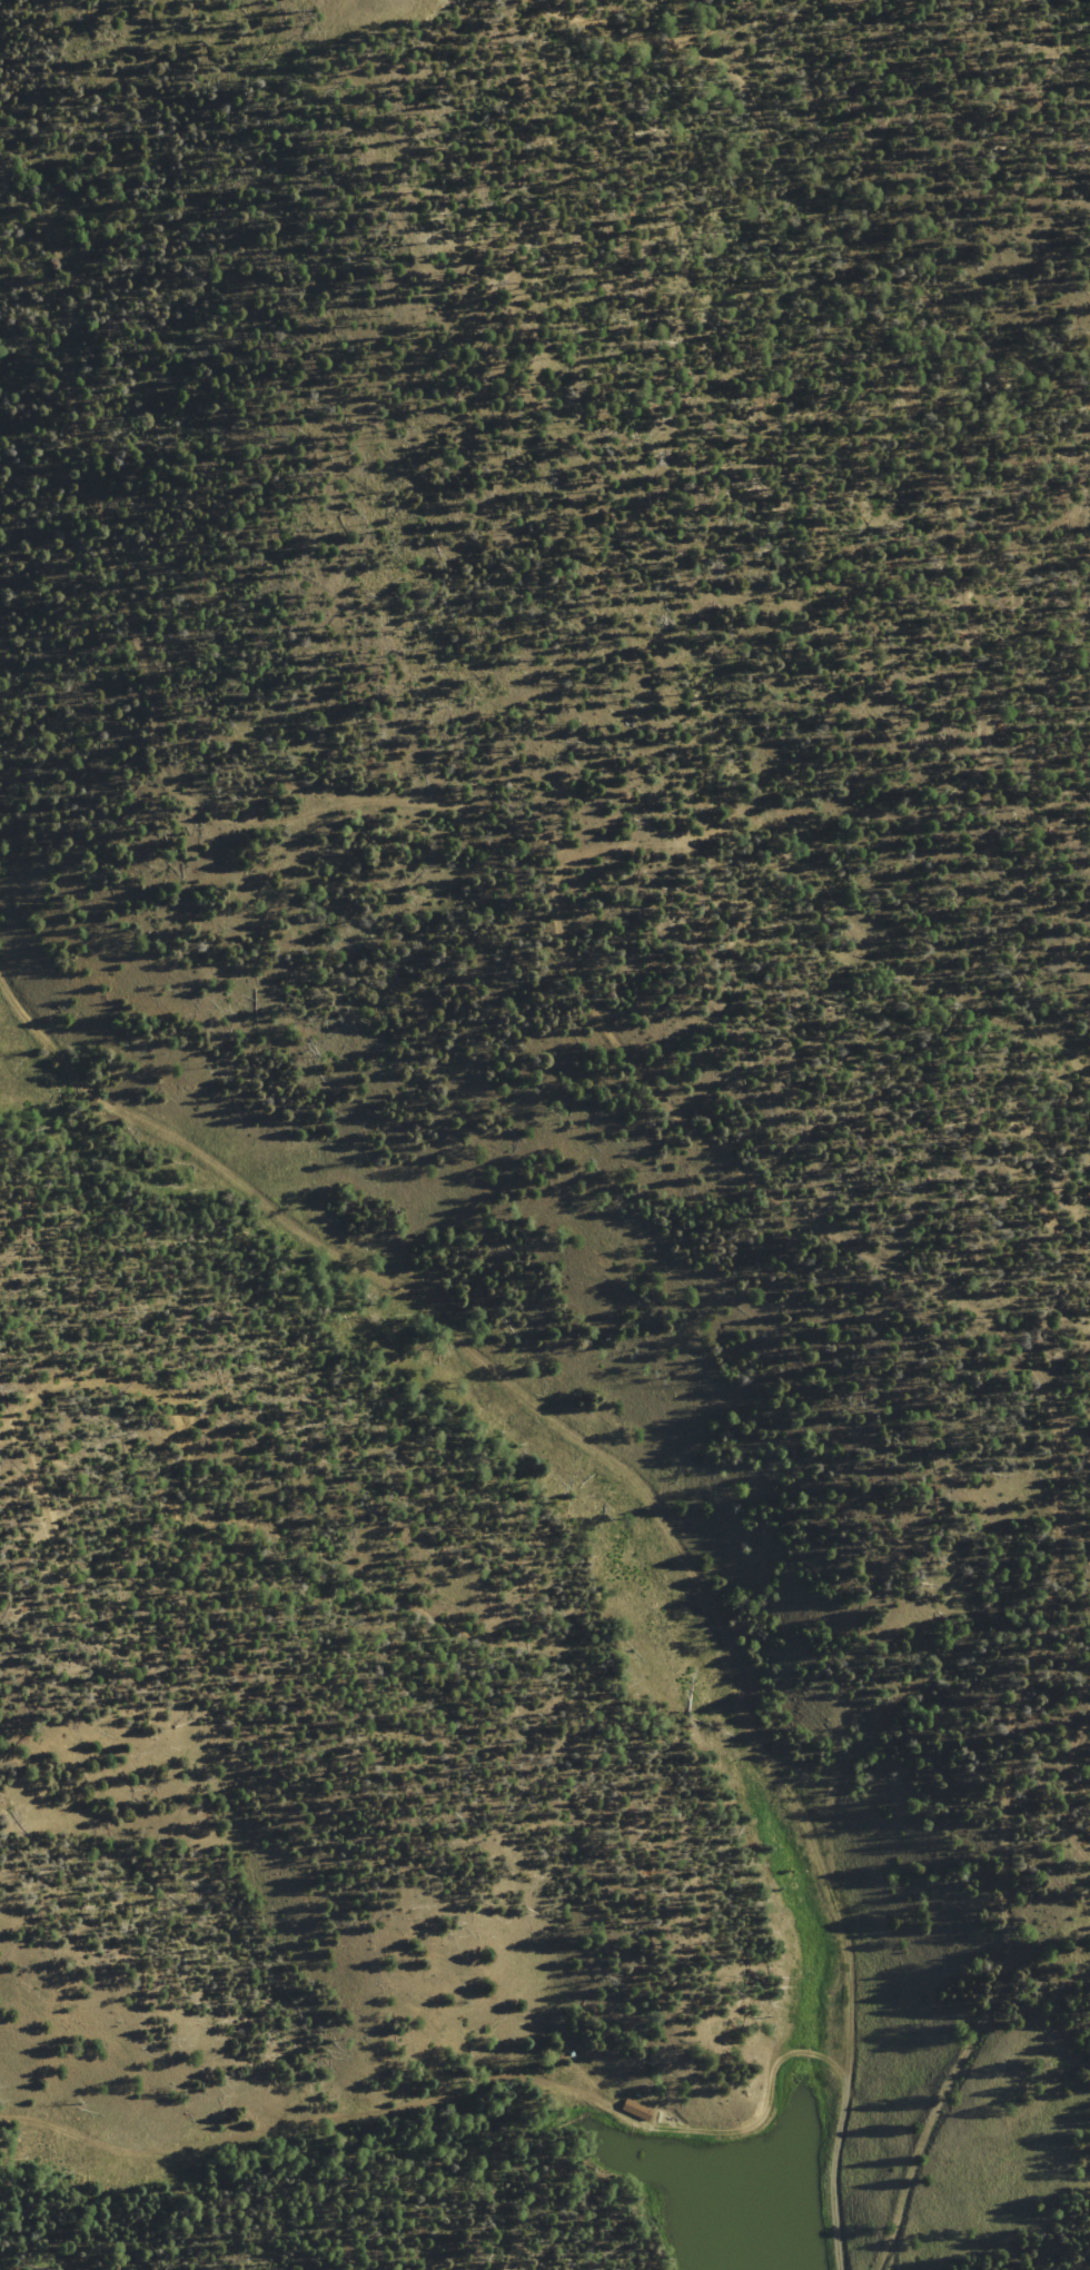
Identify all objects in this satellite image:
road: (787, 199)
road: (568, 978)
road: (1012, 1965)

